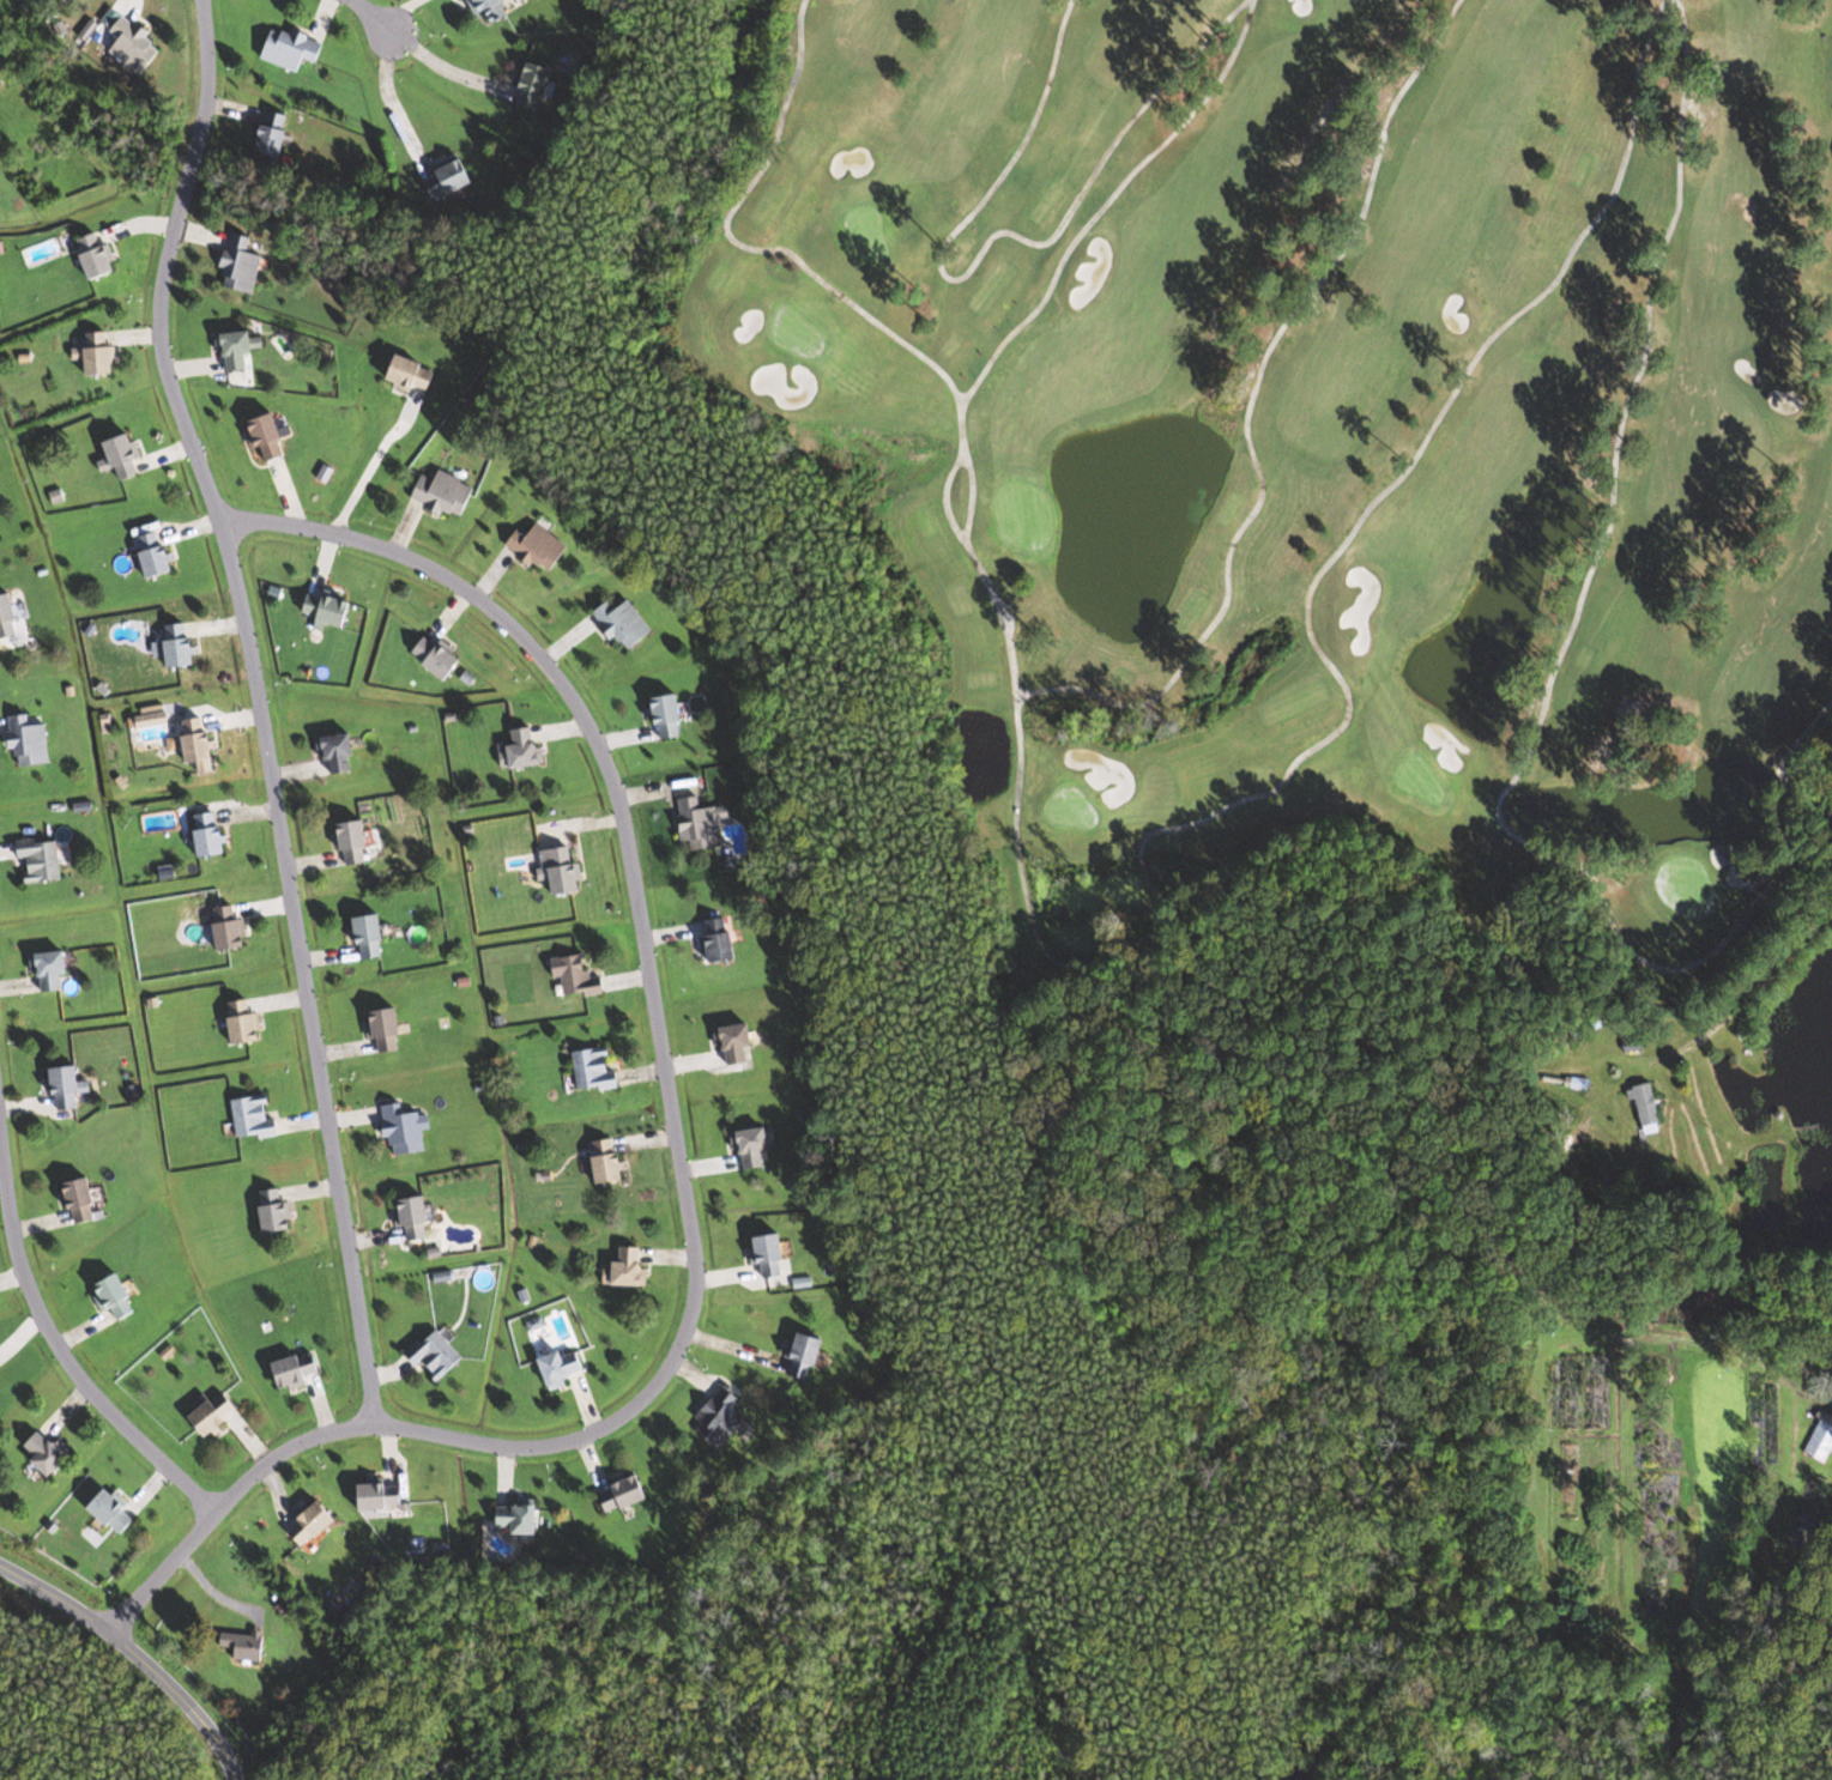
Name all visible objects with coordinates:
building: (489, 8)
road: (385, 12)
building: (134, 47)
building: (291, 49)
building: (534, 85)
building: (274, 134)
building: (97, 256)
building: (240, 266)
building: (237, 349)
building: (101, 353)
building: (411, 373)
building: (270, 437)
building: (125, 455)
road: (374, 456)
building: (445, 492)
building: (539, 546)
building: (156, 555)
building: (327, 607)
building: (8, 617)
building: (624, 623)
building: (181, 647)
building: (437, 656)
road: (266, 704)
building: (669, 715)
building: (29, 741)
building: (199, 744)
building: (526, 747)
building: (339, 752)
building: (701, 823)
building: (210, 833)
building: (355, 842)
building: (41, 859)
building: (561, 870)
building: (230, 926)
building: (370, 937)
building: (720, 942)
building: (52, 969)
building: (576, 976)
road: (1734, 999)
building: (244, 1023)
building: (387, 1030)
building: (736, 1042)
building: (1631, 1047)
building: (594, 1068)
road: (1626, 1072)
building: (68, 1086)
building: (254, 1118)
building: (405, 1130)
building: (755, 1146)
road: (688, 1158)
building: (610, 1162)
building: (83, 1200)
building: (276, 1212)
building: (415, 1217)
building: (772, 1257)
building: (631, 1266)
building: (116, 1296)
building: (1682, 1307)
building: (1574, 1309)
building: (1706, 1309)
road: (48, 1318)
building: (435, 1354)
building: (806, 1355)
building: (562, 1368)
building: (295, 1372)
building: (1568, 1392)
building: (1592, 1392)
building: (216, 1413)
building: (720, 1418)
building: (1770, 1424)
building: (1820, 1441)
building: (47, 1452)
building: (1567, 1482)
building: (624, 1495)
building: (381, 1496)
building: (114, 1512)
building: (1807, 1512)
building: (518, 1518)
building: (312, 1525)
building: (250, 1646)
road: (135, 1654)

